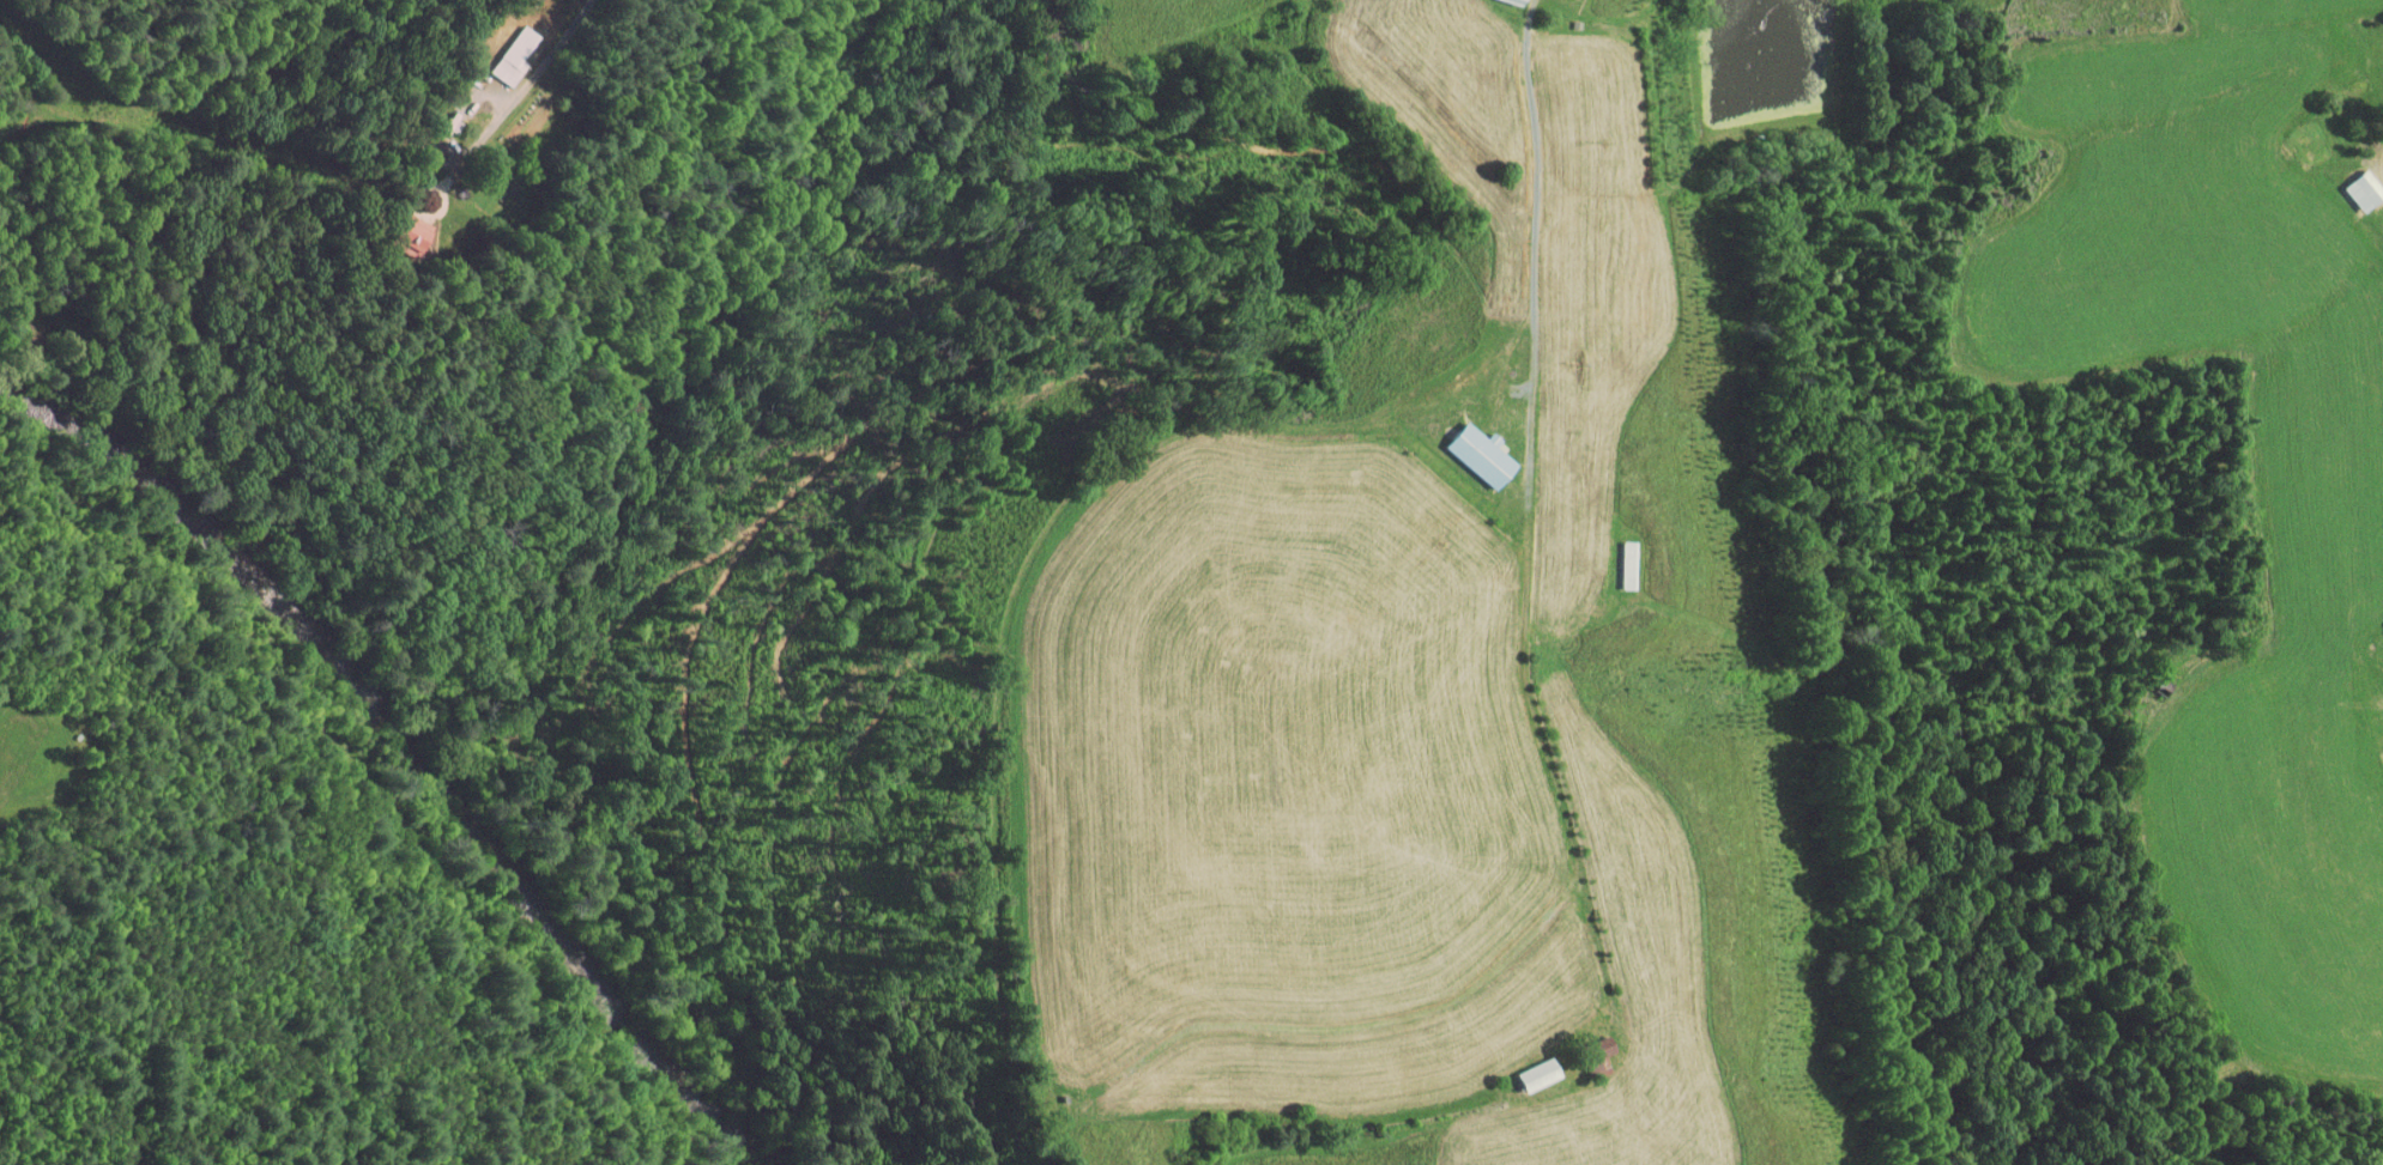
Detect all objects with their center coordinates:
building: (497, 48)
road: (35, 74)
road: (564, 92)
building: (2348, 181)
building: (391, 225)
building: (1464, 445)
road: (1531, 494)
river: (237, 532)
building: (1613, 557)
building: (2377, 750)
river: (601, 953)
building: (1581, 1046)
building: (1522, 1067)

